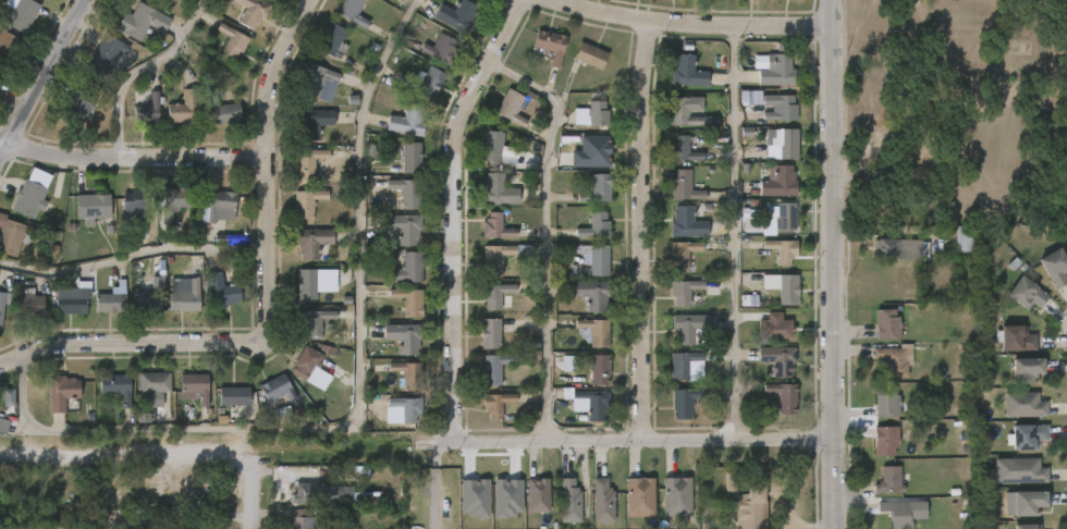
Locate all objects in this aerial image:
building: (272, 0)
road: (1065, 0)
building: (252, 11)
building: (353, 12)
building: (20, 14)
building: (457, 15)
building: (142, 21)
road: (688, 25)
building: (332, 39)
building: (232, 40)
building: (551, 45)
building: (7, 47)
building: (442, 49)
building: (107, 56)
building: (591, 56)
building: (778, 69)
road: (136, 70)
building: (688, 72)
road: (41, 79)
building: (0, 81)
building: (428, 82)
building: (318, 83)
building: (750, 97)
building: (512, 107)
building: (76, 108)
building: (778, 108)
building: (185, 109)
building: (221, 109)
building: (149, 110)
building: (593, 114)
building: (687, 114)
building: (408, 121)
building: (314, 122)
building: (785, 145)
building: (494, 148)
building: (683, 150)
building: (600, 151)
building: (412, 157)
road: (134, 158)
building: (307, 162)
road: (271, 173)
building: (780, 181)
building: (685, 186)
building: (598, 189)
building: (498, 190)
building: (407, 192)
building: (28, 198)
building: (173, 201)
building: (306, 202)
building: (135, 205)
building: (218, 205)
building: (91, 207)
road: (454, 212)
building: (783, 217)
building: (687, 223)
building: (596, 225)
building: (496, 226)
building: (404, 227)
road: (647, 230)
road: (547, 232)
road: (735, 233)
building: (11, 236)
building: (966, 238)
building: (312, 243)
building: (902, 248)
building: (783, 250)
building: (682, 251)
road: (134, 256)
building: (501, 257)
building: (594, 259)
road: (831, 264)
building: (407, 268)
building: (1054, 268)
building: (309, 284)
building: (785, 287)
building: (223, 291)
building: (685, 291)
building: (185, 293)
building: (592, 294)
building: (1025, 294)
building: (495, 295)
building: (151, 296)
building: (71, 298)
building: (4, 302)
building: (409, 302)
building: (110, 303)
building: (32, 305)
building: (316, 322)
building: (885, 323)
building: (689, 327)
building: (775, 328)
building: (594, 332)
building: (491, 334)
building: (404, 337)
building: (1015, 339)
road: (123, 340)
building: (778, 359)
building: (891, 360)
building: (306, 362)
building: (687, 366)
building: (494, 368)
building: (597, 368)
building: (1025, 368)
building: (408, 374)
building: (154, 382)
building: (195, 386)
building: (116, 387)
building: (278, 389)
building: (61, 393)
building: (233, 396)
building: (784, 396)
building: (8, 397)
building: (884, 401)
road: (357, 402)
building: (588, 403)
building: (685, 403)
building: (495, 404)
building: (1022, 404)
building: (407, 408)
building: (3, 426)
building: (1027, 435)
road: (642, 439)
building: (883, 440)
road: (121, 455)
building: (1022, 470)
road: (433, 480)
building: (887, 480)
building: (729, 482)
building: (0, 493)
road: (247, 493)
building: (320, 494)
building: (535, 494)
building: (475, 497)
building: (507, 497)
building: (641, 497)
building: (677, 497)
building: (600, 501)
building: (567, 502)
building: (1023, 502)
building: (746, 507)
building: (894, 513)
building: (302, 519)
building: (192, 526)
building: (1025, 527)

